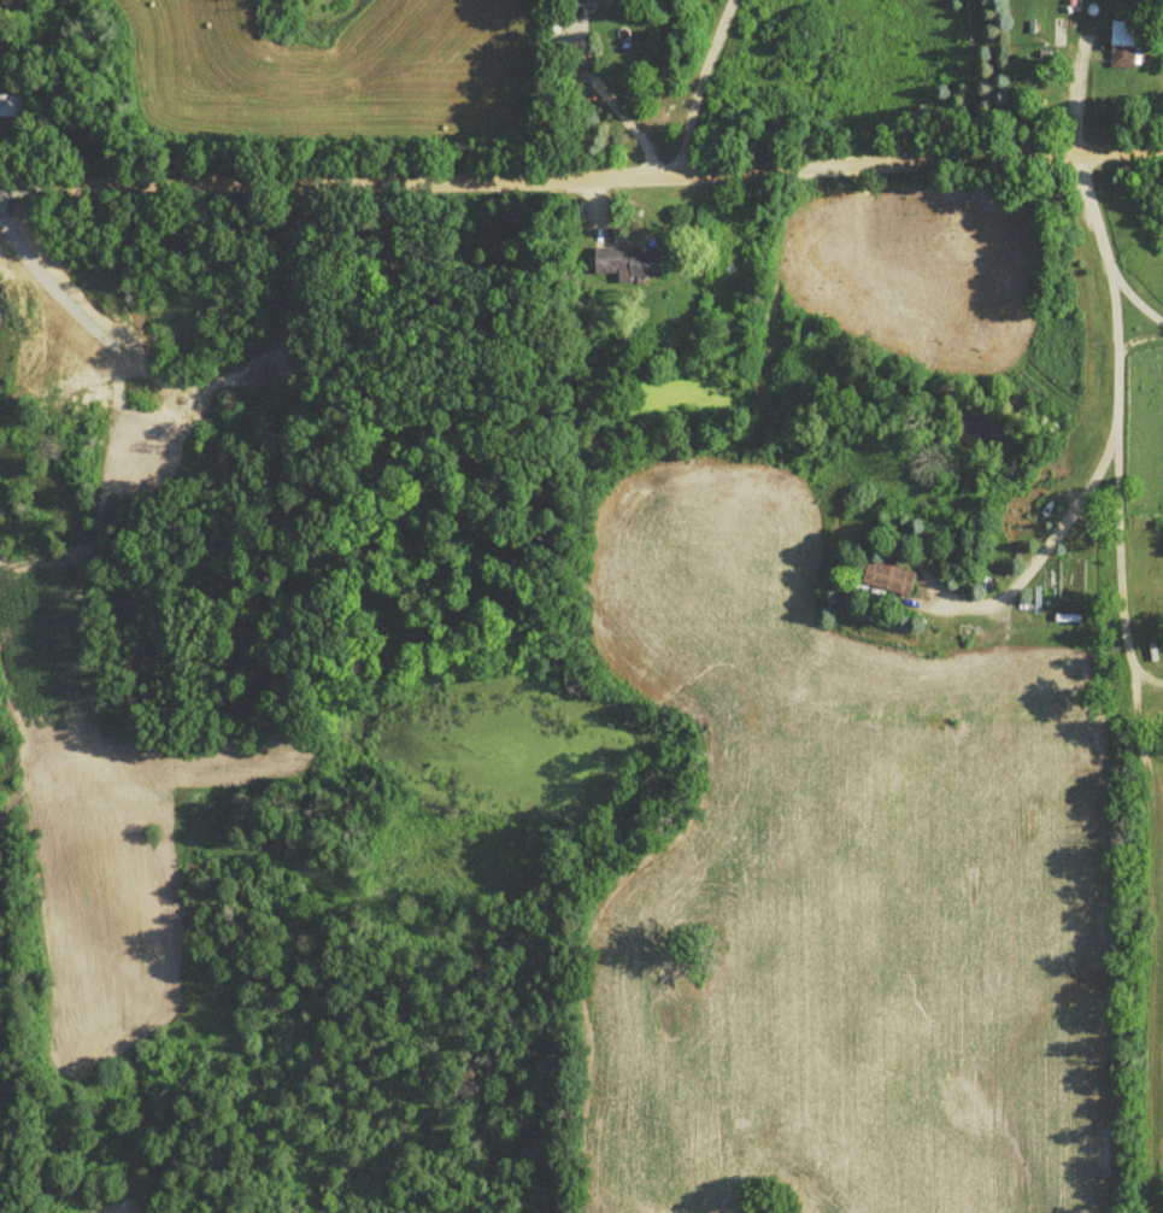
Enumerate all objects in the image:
building: (1076, 1)
building: (586, 2)
building: (1121, 51)
road: (694, 87)
building: (4, 110)
road: (621, 117)
road: (581, 182)
building: (628, 268)
road: (1136, 305)
building: (809, 339)
road: (1118, 415)
road: (1059, 539)
building: (888, 581)

